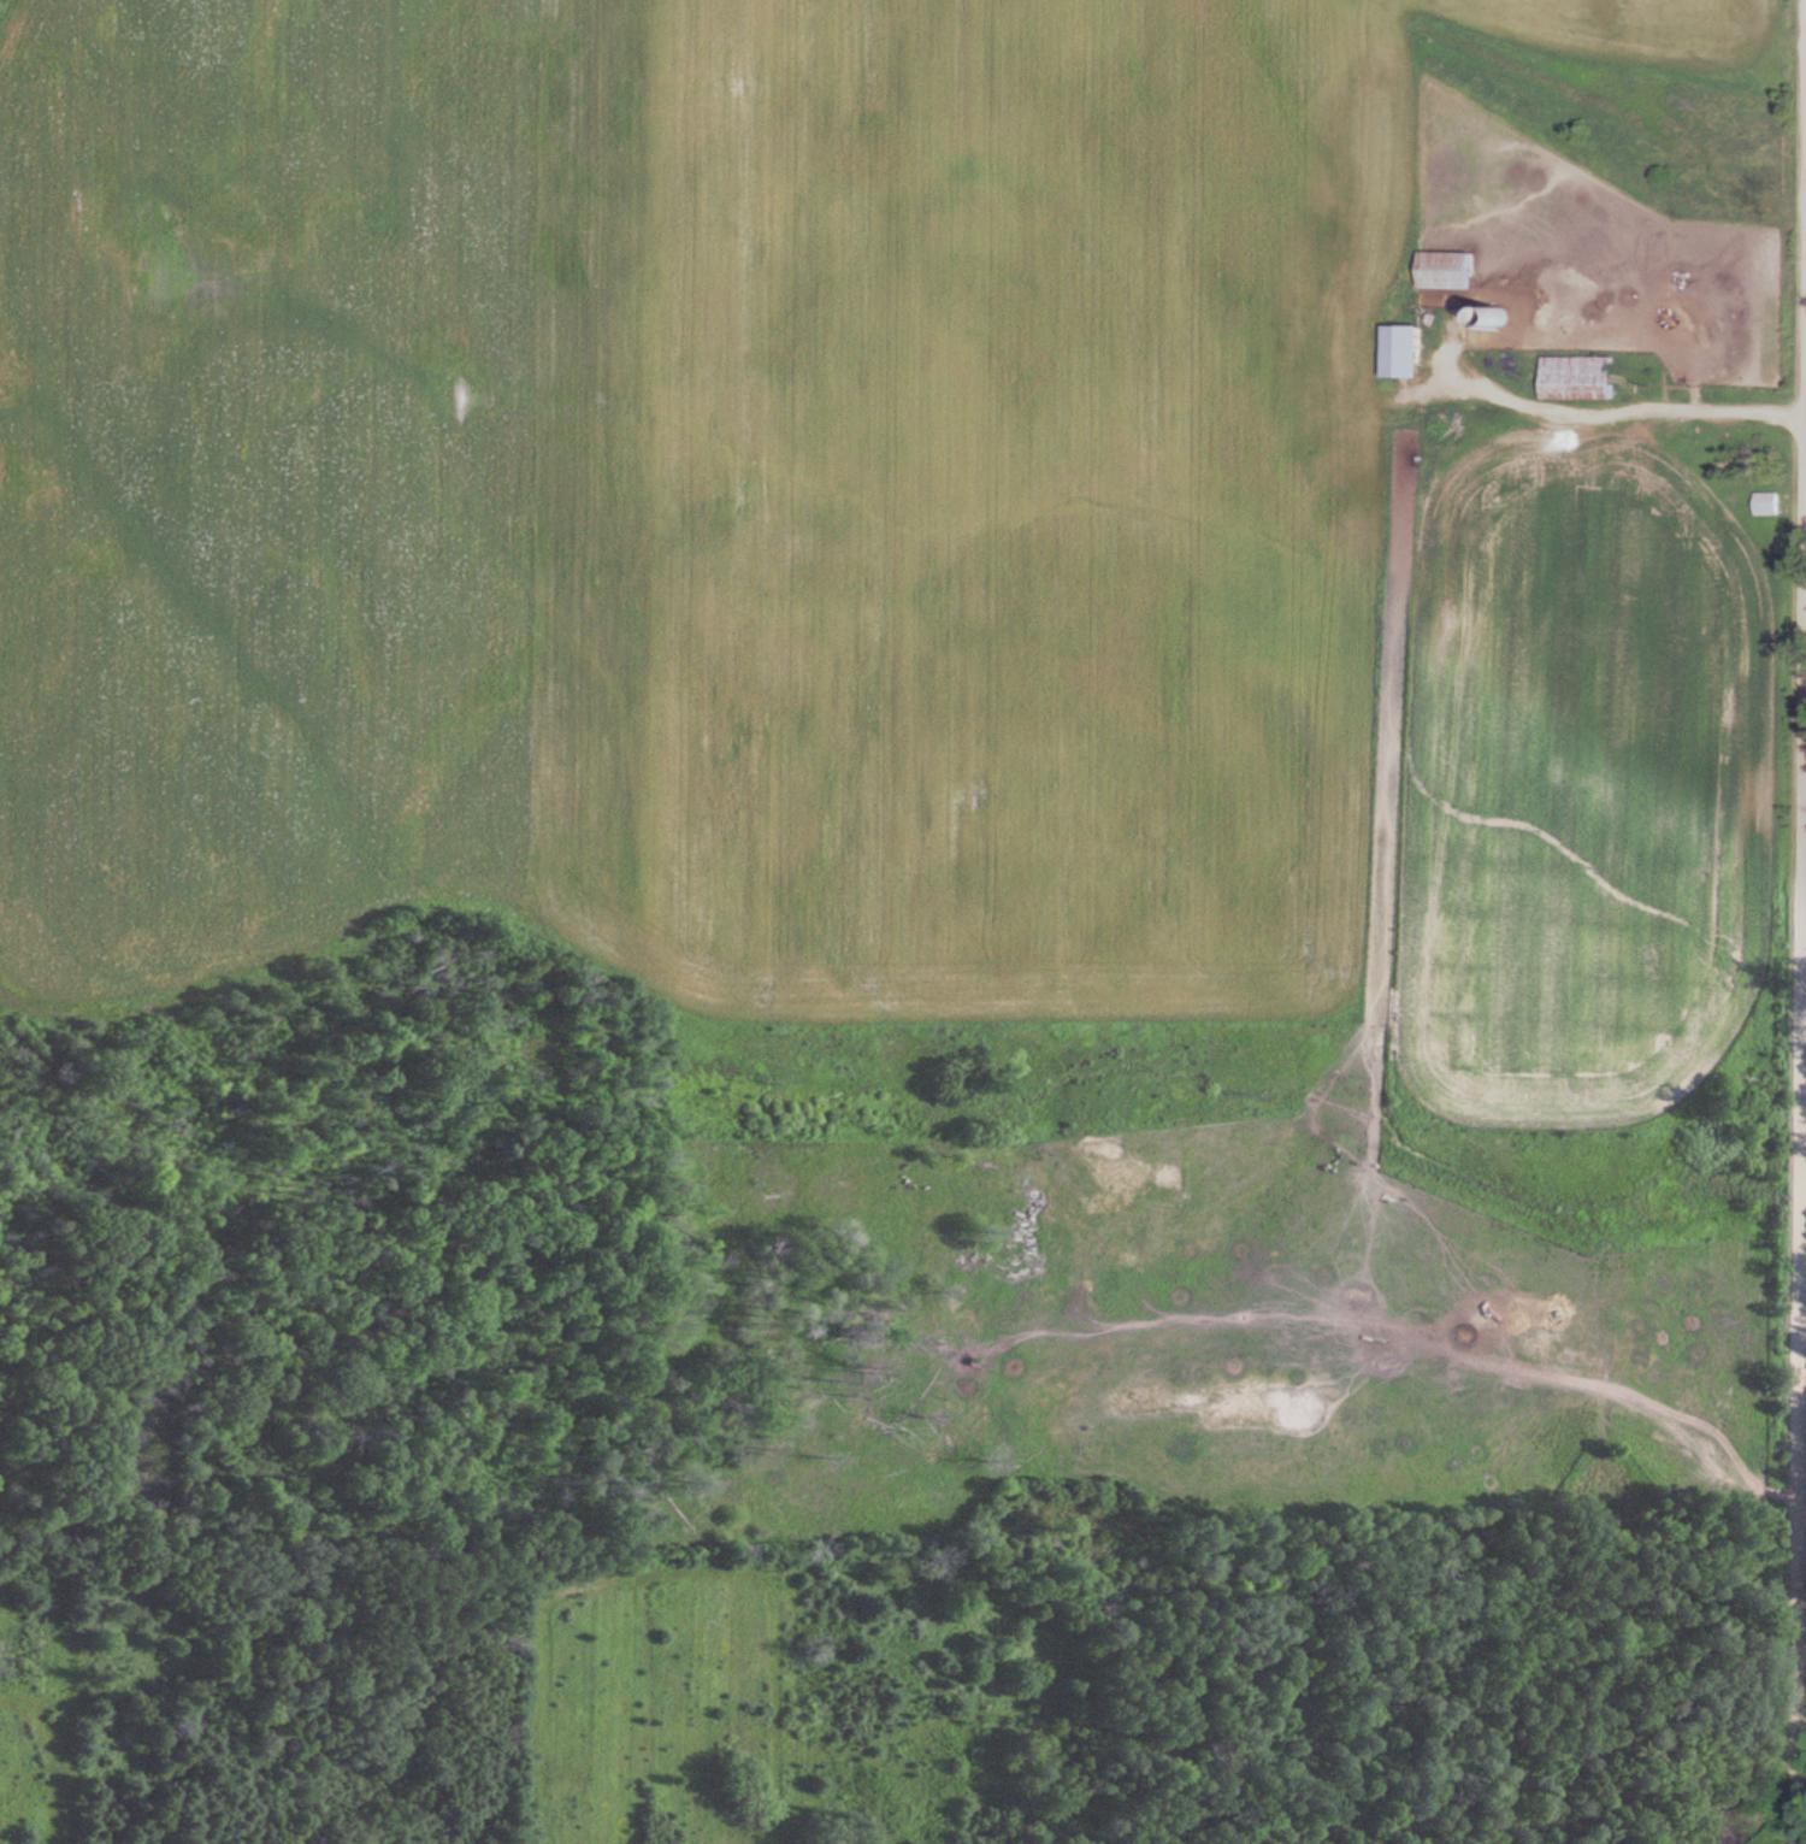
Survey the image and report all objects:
building: (1451, 267)
building: (1501, 314)
building: (1409, 348)
building: (1582, 376)
building: (1771, 501)
road: (1804, 1522)

